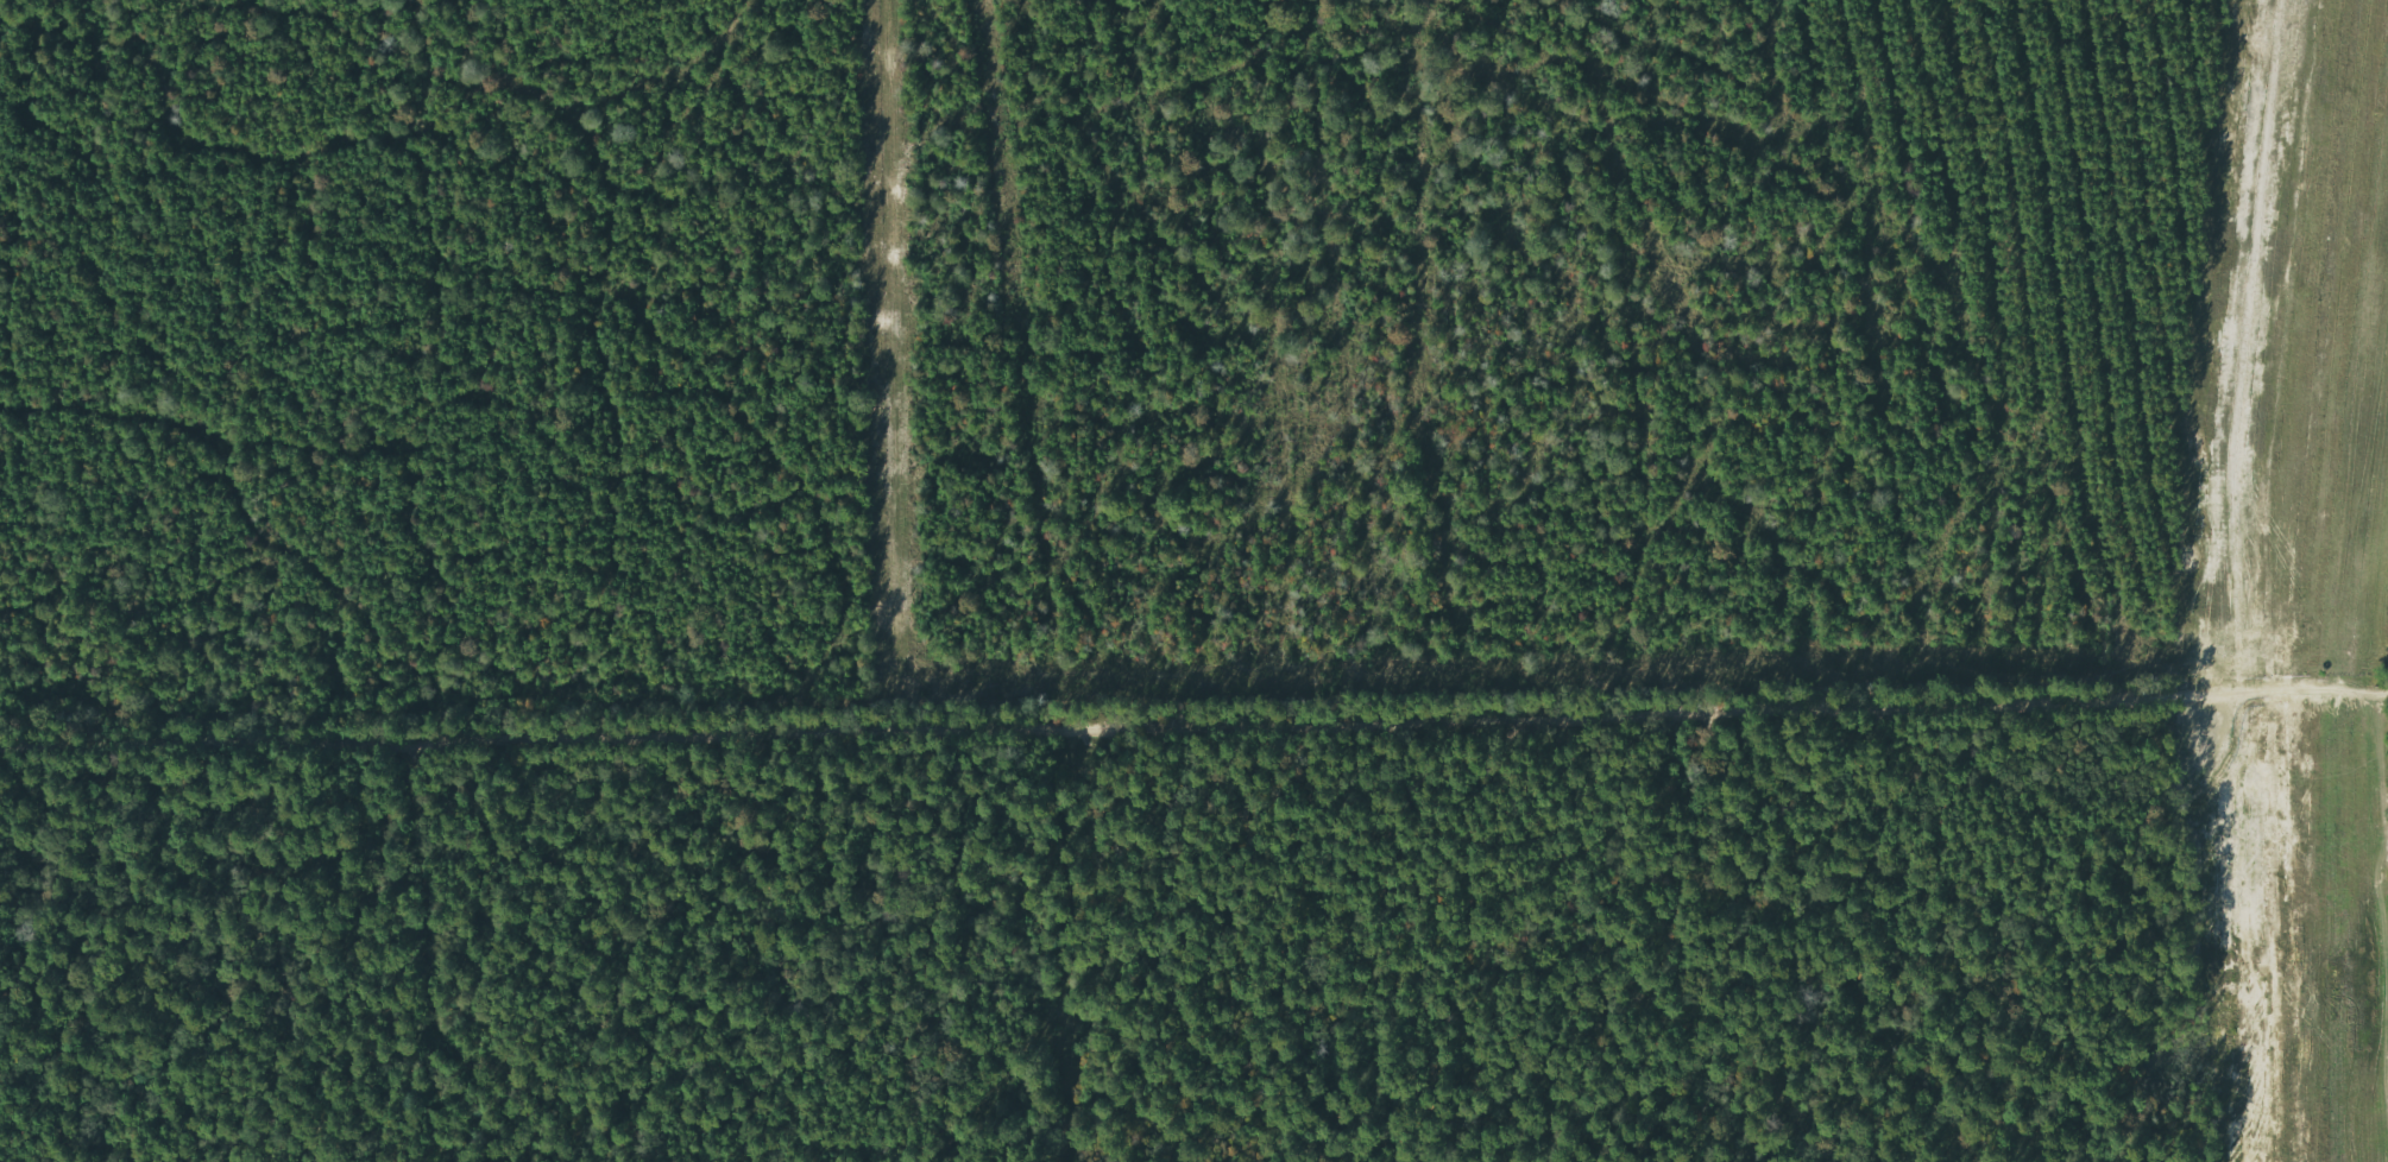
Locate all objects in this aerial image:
road: (1989, 694)

